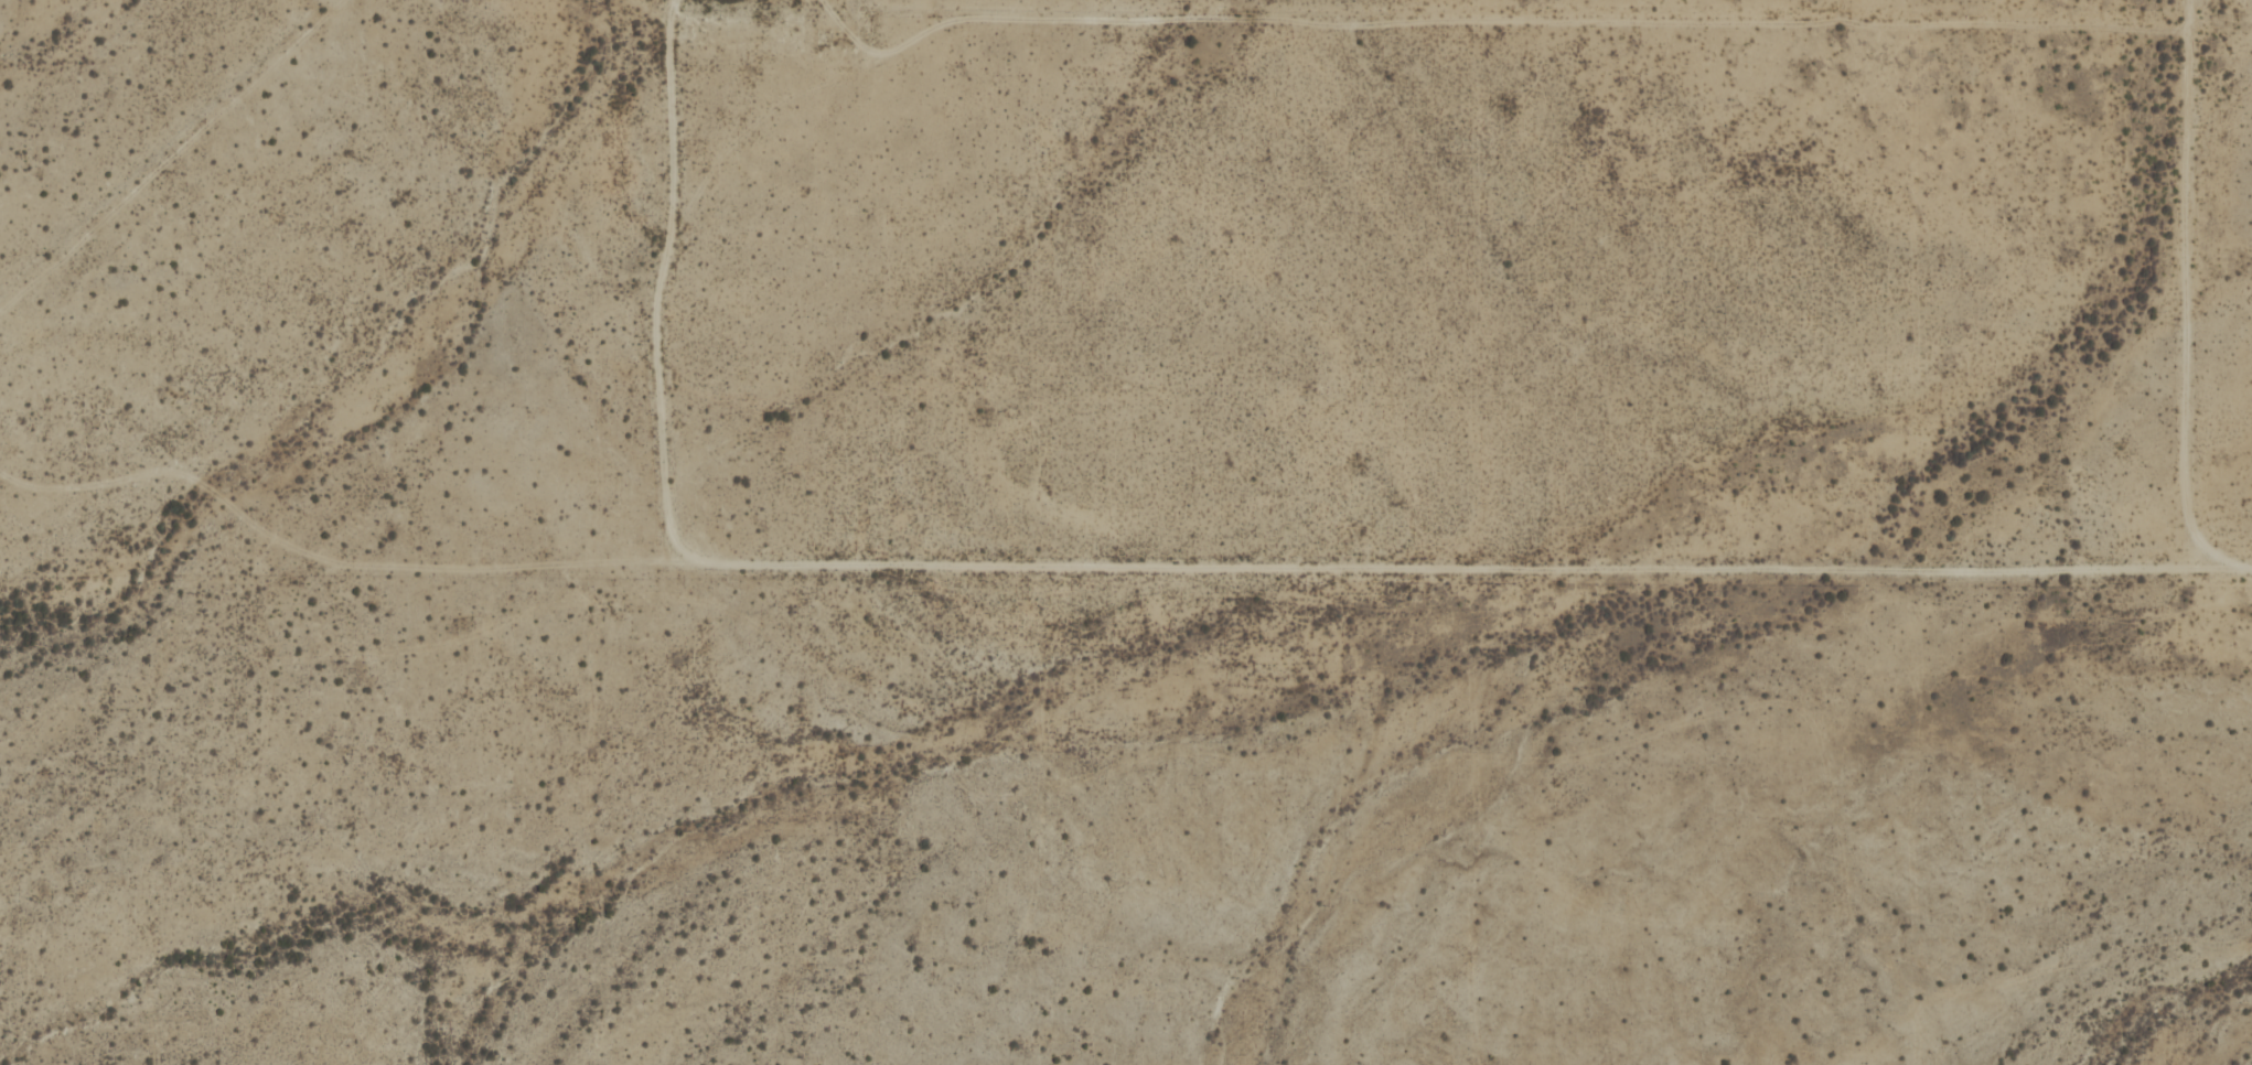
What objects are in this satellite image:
road: (2187, 304)
road: (1169, 564)

